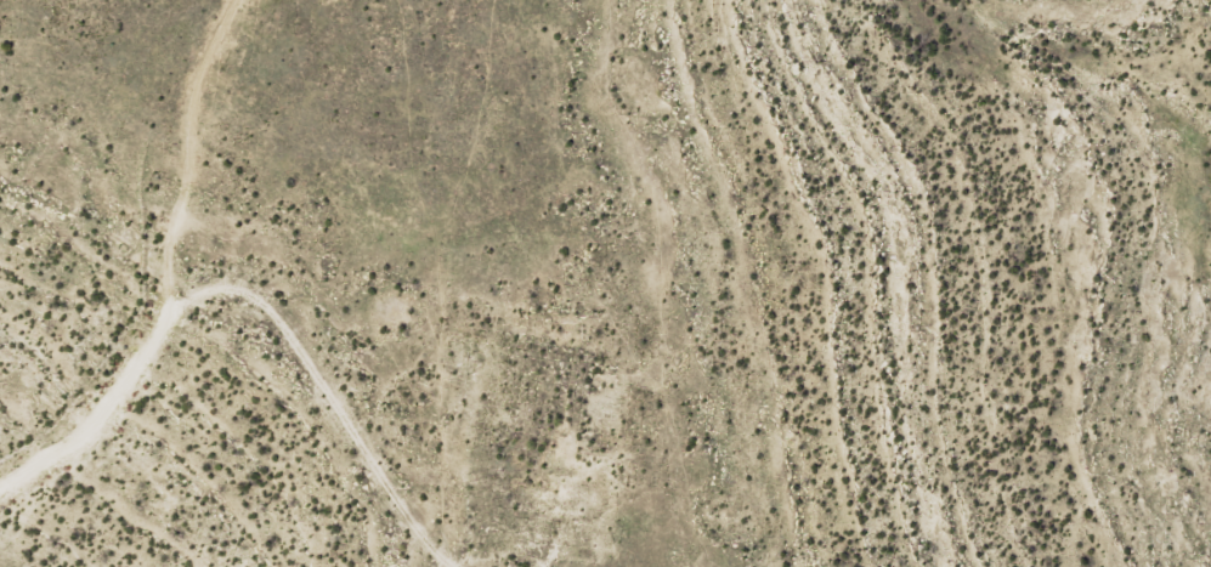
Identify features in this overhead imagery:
road: (179, 285)

